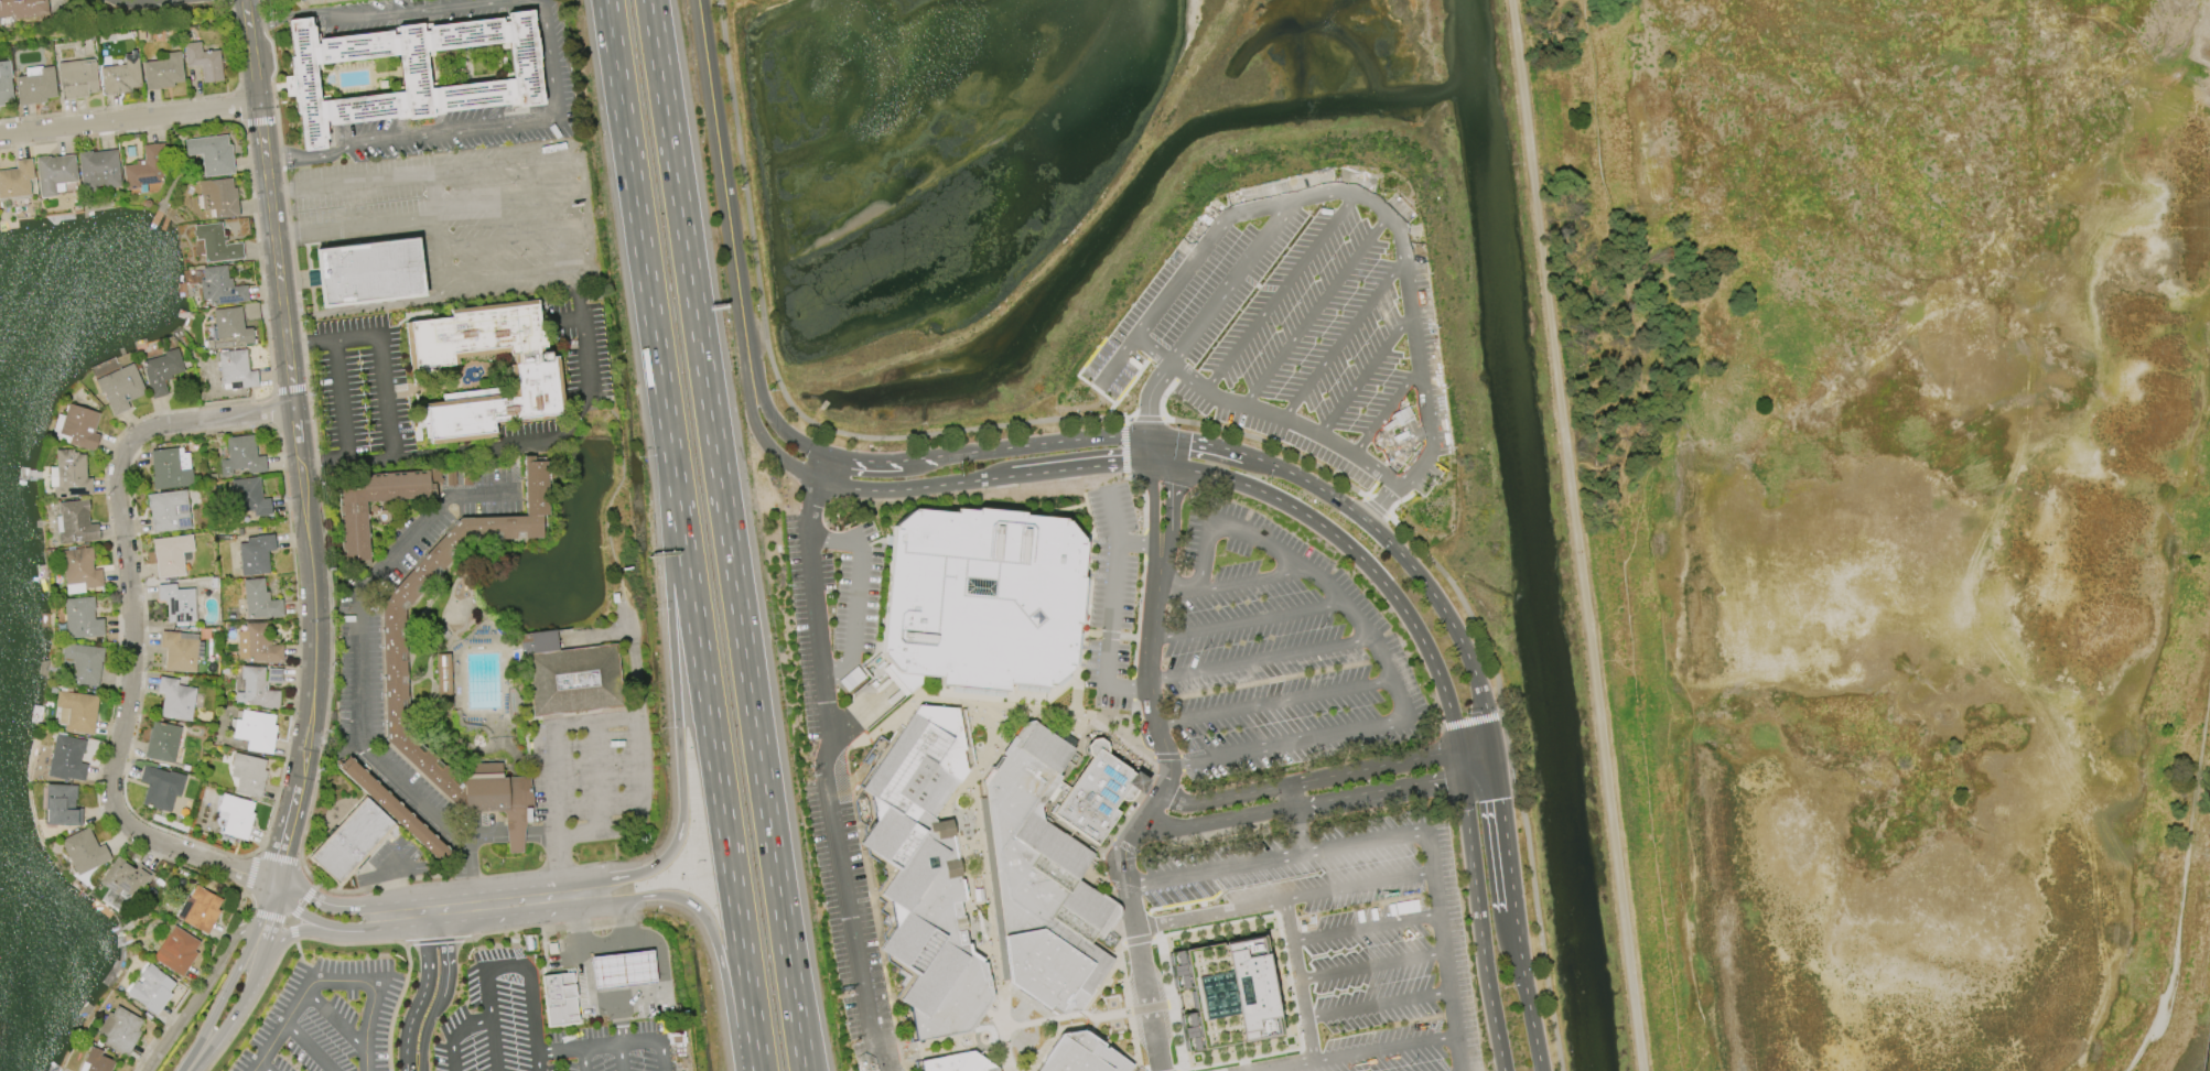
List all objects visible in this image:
road: (223, 1)
building: (309, 3)
building: (22, 8)
road: (379, 13)
road: (234, 46)
road: (273, 58)
building: (203, 62)
building: (162, 72)
building: (410, 72)
building: (121, 76)
building: (76, 78)
building: (34, 85)
building: (4, 87)
road: (117, 107)
road: (237, 107)
road: (129, 116)
road: (259, 121)
road: (467, 128)
road: (120, 131)
building: (211, 154)
building: (147, 166)
building: (98, 170)
building: (53, 172)
building: (15, 180)
road: (348, 180)
road: (723, 185)
road: (1348, 193)
building: (218, 197)
road: (508, 198)
parking lot: (459, 207)
road: (637, 218)
road: (354, 225)
road: (513, 235)
building: (215, 244)
road: (291, 252)
road: (257, 256)
building: (368, 271)
road: (443, 277)
road: (1231, 282)
building: (219, 286)
road: (1279, 292)
road: (369, 306)
road: (1314, 311)
building: (250, 312)
parking lot: (1303, 327)
building: (228, 328)
road: (1343, 338)
road: (1153, 350)
parking lot: (1098, 360)
building: (236, 369)
building: (162, 371)
road: (1365, 375)
building: (535, 378)
parking lot: (1120, 380)
building: (120, 388)
road: (290, 388)
road: (291, 389)
road: (1147, 396)
road: (273, 408)
road: (1384, 412)
traffic signals: (1147, 415)
road: (1284, 418)
road: (1185, 422)
road: (777, 424)
building: (76, 428)
road: (560, 430)
road: (395, 431)
road: (762, 440)
traffic signals: (1189, 441)
road: (1196, 442)
road: (1043, 443)
road: (1153, 451)
road: (1404, 451)
building: (242, 455)
road: (1258, 458)
road: (324, 462)
road: (883, 462)
traffic signals: (1119, 464)
building: (171, 468)
road: (1067, 469)
building: (71, 474)
road: (1209, 475)
traffic signals: (1167, 483)
road: (899, 489)
road: (1322, 489)
building: (249, 497)
road: (1380, 502)
road: (1167, 504)
road: (1153, 505)
building: (169, 511)
road: (1115, 515)
road: (1306, 515)
building: (76, 522)
building: (352, 530)
road: (727, 534)
road: (1576, 534)
road: (820, 540)
road: (1139, 543)
road: (843, 544)
road: (1203, 553)
building: (171, 554)
building: (255, 554)
building: (79, 569)
road: (1175, 584)
parking lot: (1111, 596)
building: (980, 598)
building: (259, 599)
road: (859, 602)
building: (177, 603)
road: (1113, 614)
building: (82, 617)
road: (1247, 618)
road: (1448, 620)
road: (118, 627)
road: (131, 629)
road: (143, 630)
road: (299, 639)
road: (332, 639)
building: (257, 643)
building: (179, 650)
parking lot: (1275, 652)
road: (1260, 659)
building: (84, 662)
road: (838, 670)
building: (394, 672)
building: (442, 673)
building: (569, 674)
road: (362, 678)
road: (675, 683)
building: (258, 686)
road: (1129, 689)
building: (175, 699)
road: (1273, 702)
building: (78, 711)
road: (862, 714)
traffic signals: (1452, 717)
road: (636, 718)
road: (1473, 721)
road: (1379, 725)
road: (1426, 726)
building: (254, 731)
building: (162, 742)
road: (714, 754)
parking lot: (842, 757)
building: (66, 758)
road: (824, 762)
road: (1357, 769)
road: (1478, 771)
parking lot: (592, 773)
building: (248, 775)
road: (596, 777)
traffic signals: (1444, 778)
building: (160, 788)
road: (1378, 790)
road: (1464, 793)
building: (1093, 796)
traffic signals: (1500, 799)
road: (1190, 803)
building: (62, 805)
building: (392, 808)
road: (1150, 809)
building: (236, 815)
road: (1296, 818)
road: (1219, 820)
road: (1503, 826)
road: (285, 832)
road: (514, 835)
road: (539, 835)
road: (482, 836)
building: (349, 841)
building: (83, 851)
road: (278, 857)
road: (1215, 867)
road: (556, 872)
road: (250, 873)
road: (460, 874)
building: (927, 875)
building: (125, 878)
road: (1368, 883)
road: (382, 884)
building: (1045, 884)
road: (396, 885)
road: (291, 887)
road: (1437, 887)
road: (2184, 888)
road: (311, 891)
road: (482, 891)
road: (1293, 898)
road: (300, 905)
road: (333, 906)
building: (200, 909)
road: (236, 909)
road: (442, 909)
road: (269, 911)
road: (1209, 913)
road: (617, 915)
road: (268, 917)
road: (487, 917)
road: (287, 920)
road: (314, 920)
road: (290, 921)
road: (1367, 927)
road: (541, 928)
road: (300, 930)
road: (293, 932)
road: (644, 938)
road: (436, 940)
road: (714, 940)
parking lot: (1339, 940)
road: (349, 943)
road: (610, 948)
building: (175, 951)
road: (446, 952)
road: (258, 956)
road: (299, 956)
road: (583, 956)
road: (339, 960)
road: (508, 964)
road: (1372, 965)
road: (637, 967)
building: (622, 969)
road: (613, 970)
road: (314, 973)
road: (331, 980)
road: (1298, 980)
road: (424, 985)
road: (639, 987)
building: (151, 988)
road: (247, 988)
road: (202, 989)
road: (537, 989)
road: (1526, 991)
road: (187, 992)
road: (616, 993)
building: (1223, 993)
building: (558, 999)
gas station: (558, 999)
road: (219, 1003)
road: (1379, 1004)
road: (251, 1005)
road: (396, 1005)
road: (335, 1017)
parking lot: (327, 1018)
road: (427, 1025)
parking lot: (539, 1029)
road: (539, 1029)
building: (119, 1030)
road: (456, 1034)
road: (217, 1035)
road: (612, 1042)
road: (310, 1045)
road: (1386, 1047)
building: (1080, 1054)
road: (621, 1057)
road: (584, 1059)
building: (95, 1061)
building: (957, 1063)
road: (265, 1064)
road: (1282, 1064)
road: (407, 1070)

